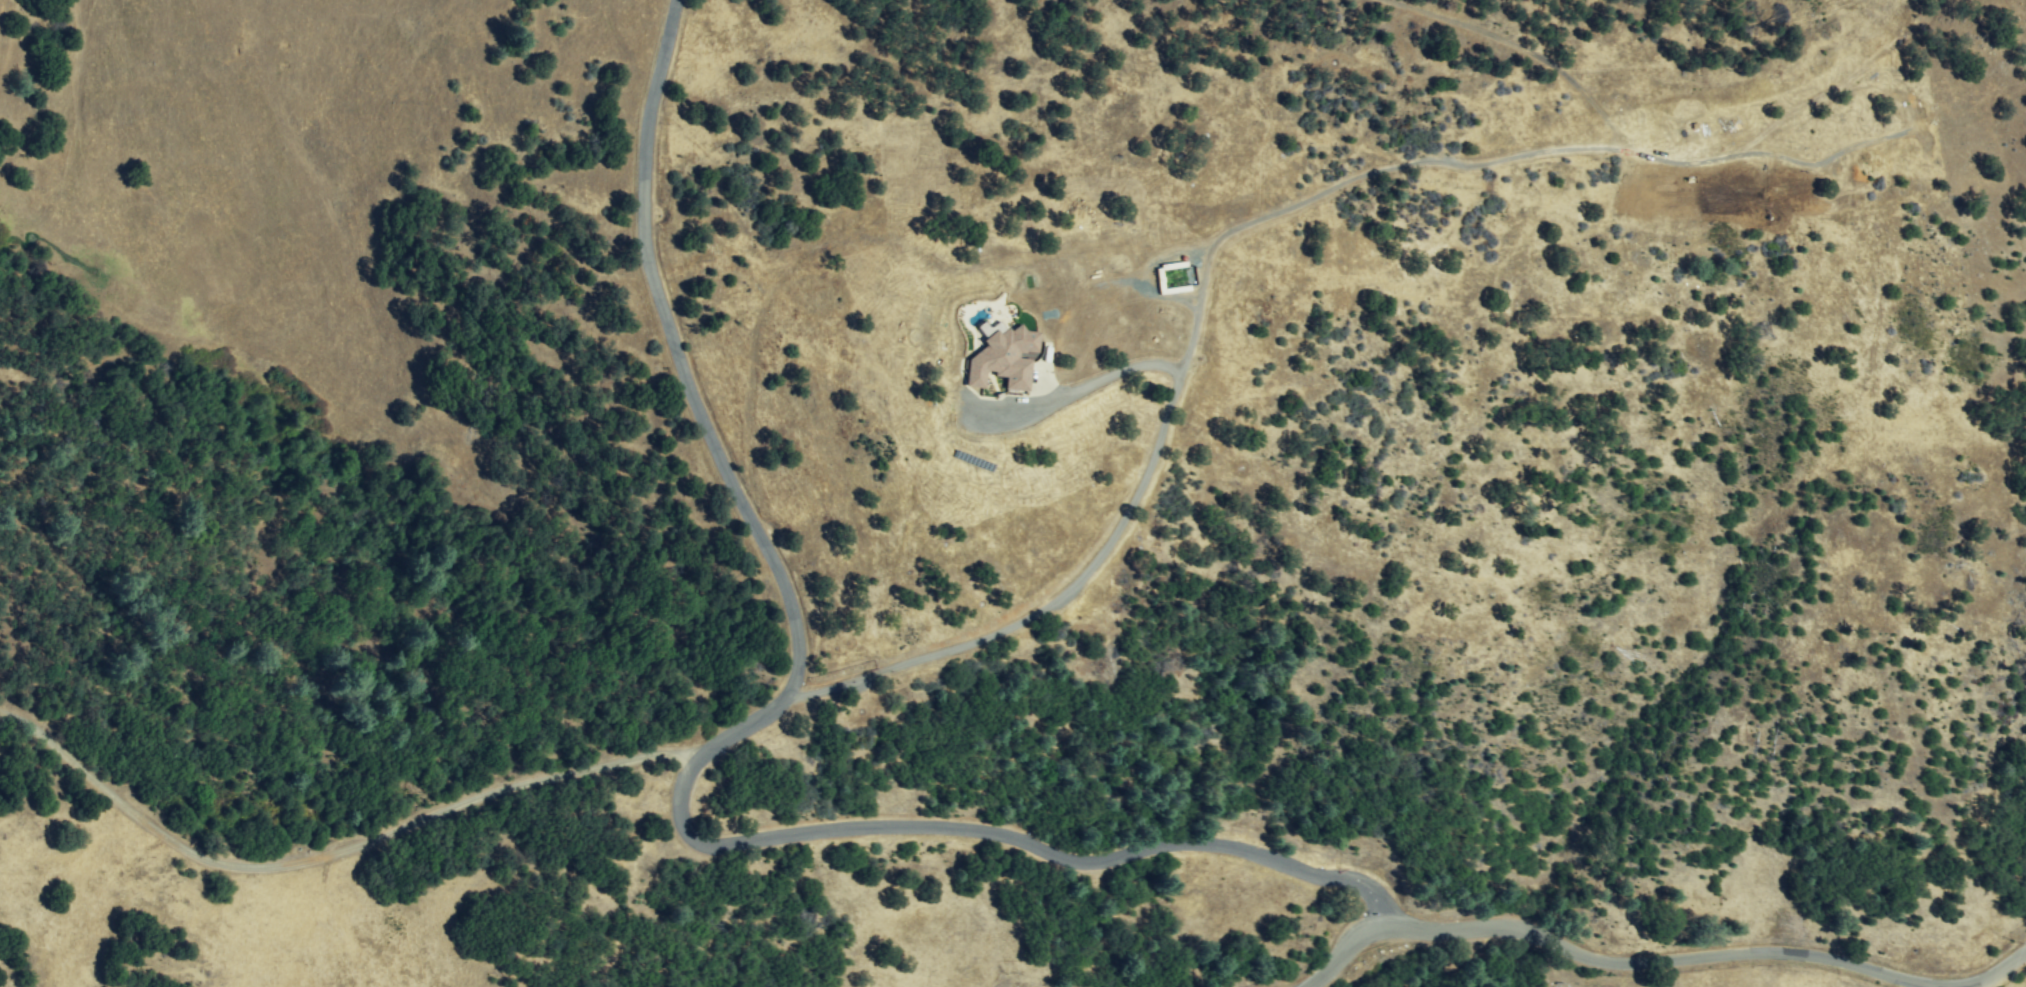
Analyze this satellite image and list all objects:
road: (2, 25)
building: (1171, 279)
building: (1003, 359)
road: (1089, 571)
road: (703, 750)
road: (1656, 961)
road: (1972, 984)

